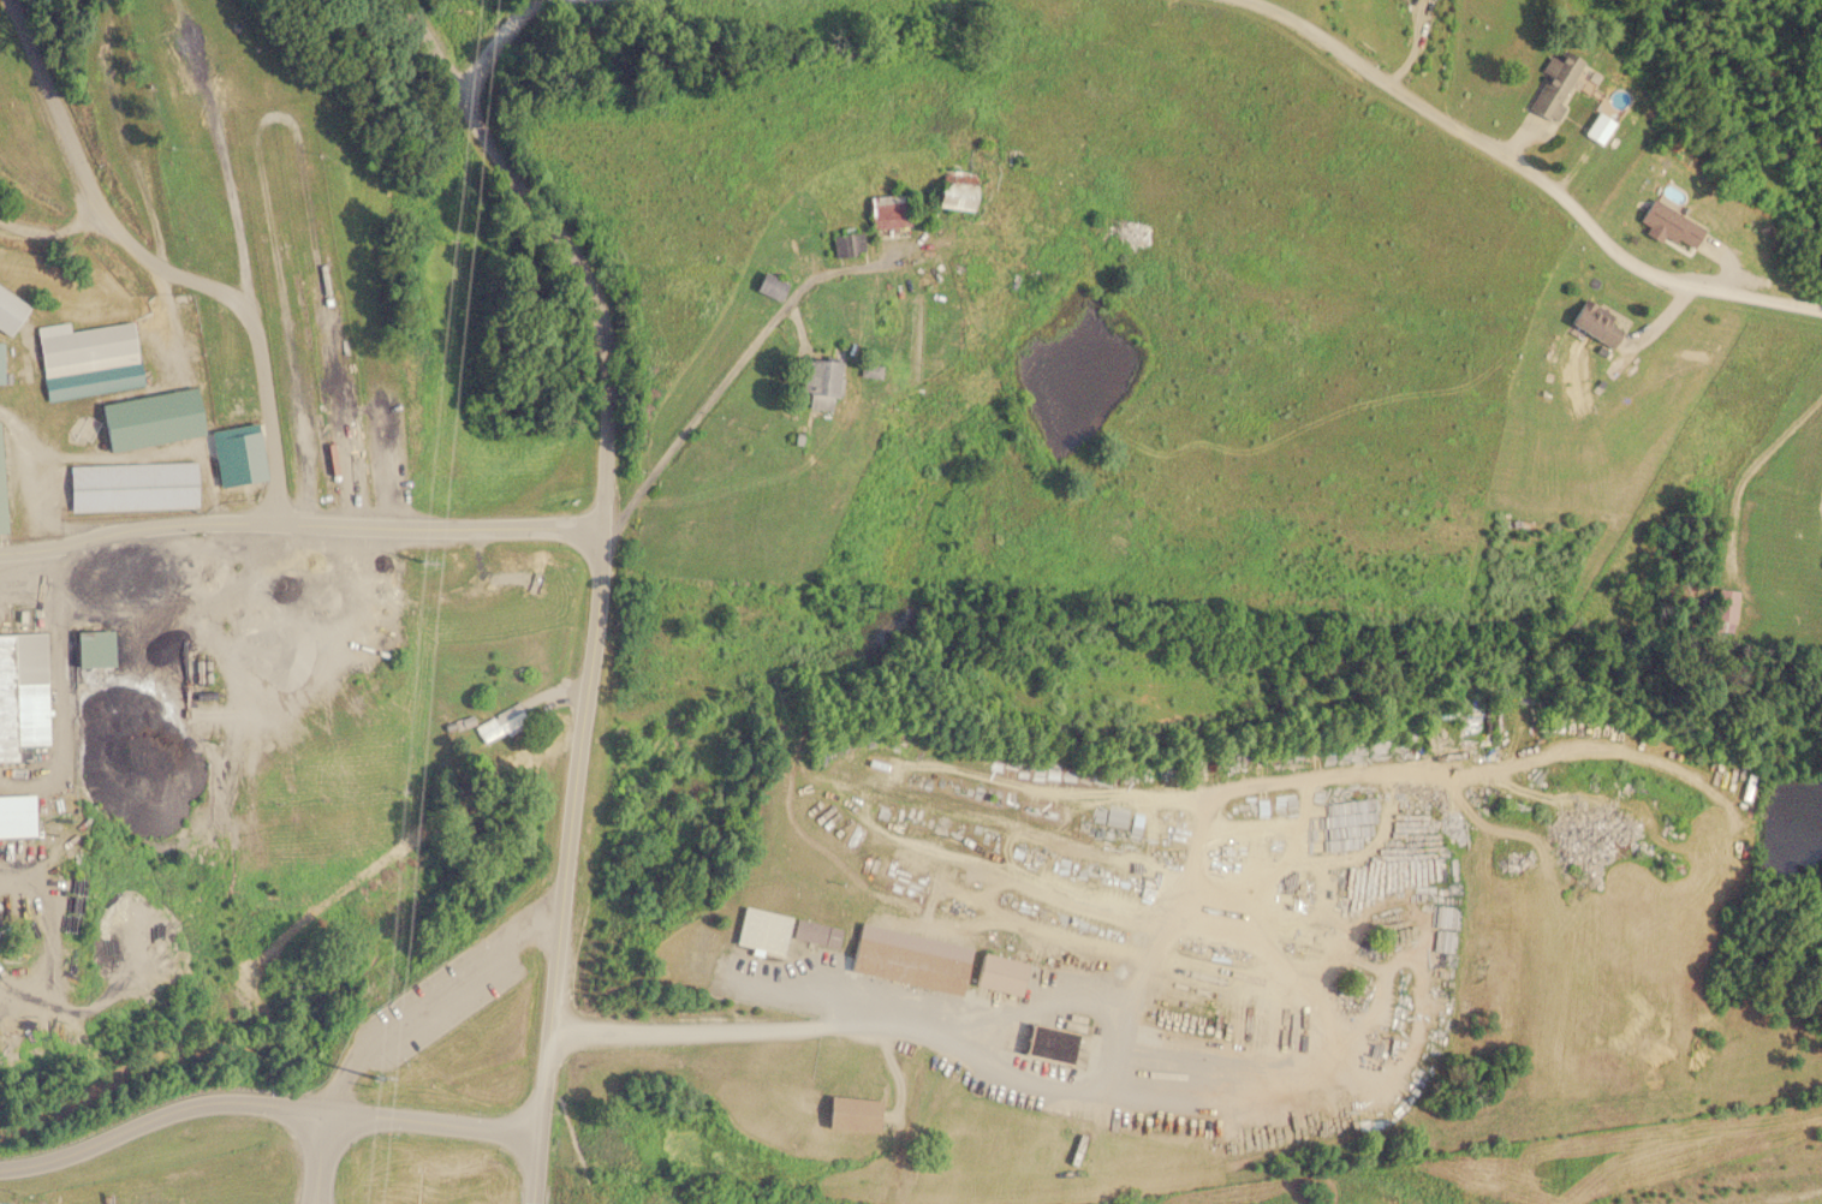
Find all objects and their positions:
road: (490, 42)
building: (1554, 83)
building: (1597, 127)
road: (1526, 171)
building: (953, 189)
building: (887, 211)
building: (1668, 225)
road: (49, 233)
building: (846, 243)
road: (162, 263)
building: (769, 285)
building: (8, 310)
building: (1594, 322)
building: (85, 359)
building: (0, 362)
building: (815, 382)
building: (132, 485)
building: (1, 500)
road: (137, 525)
road: (439, 526)
road: (601, 543)
power tower: (418, 553)
building: (1726, 609)
building: (22, 692)
building: (500, 723)
building: (1330, 745)
building: (1749, 788)
building: (17, 815)
building: (762, 930)
building: (815, 932)
building: (909, 965)
building: (998, 973)
road: (430, 996)
parking lot: (449, 997)
building: (1049, 1042)
power tower: (370, 1085)
road: (266, 1107)
building: (852, 1114)
road: (324, 1160)
road: (536, 1173)

